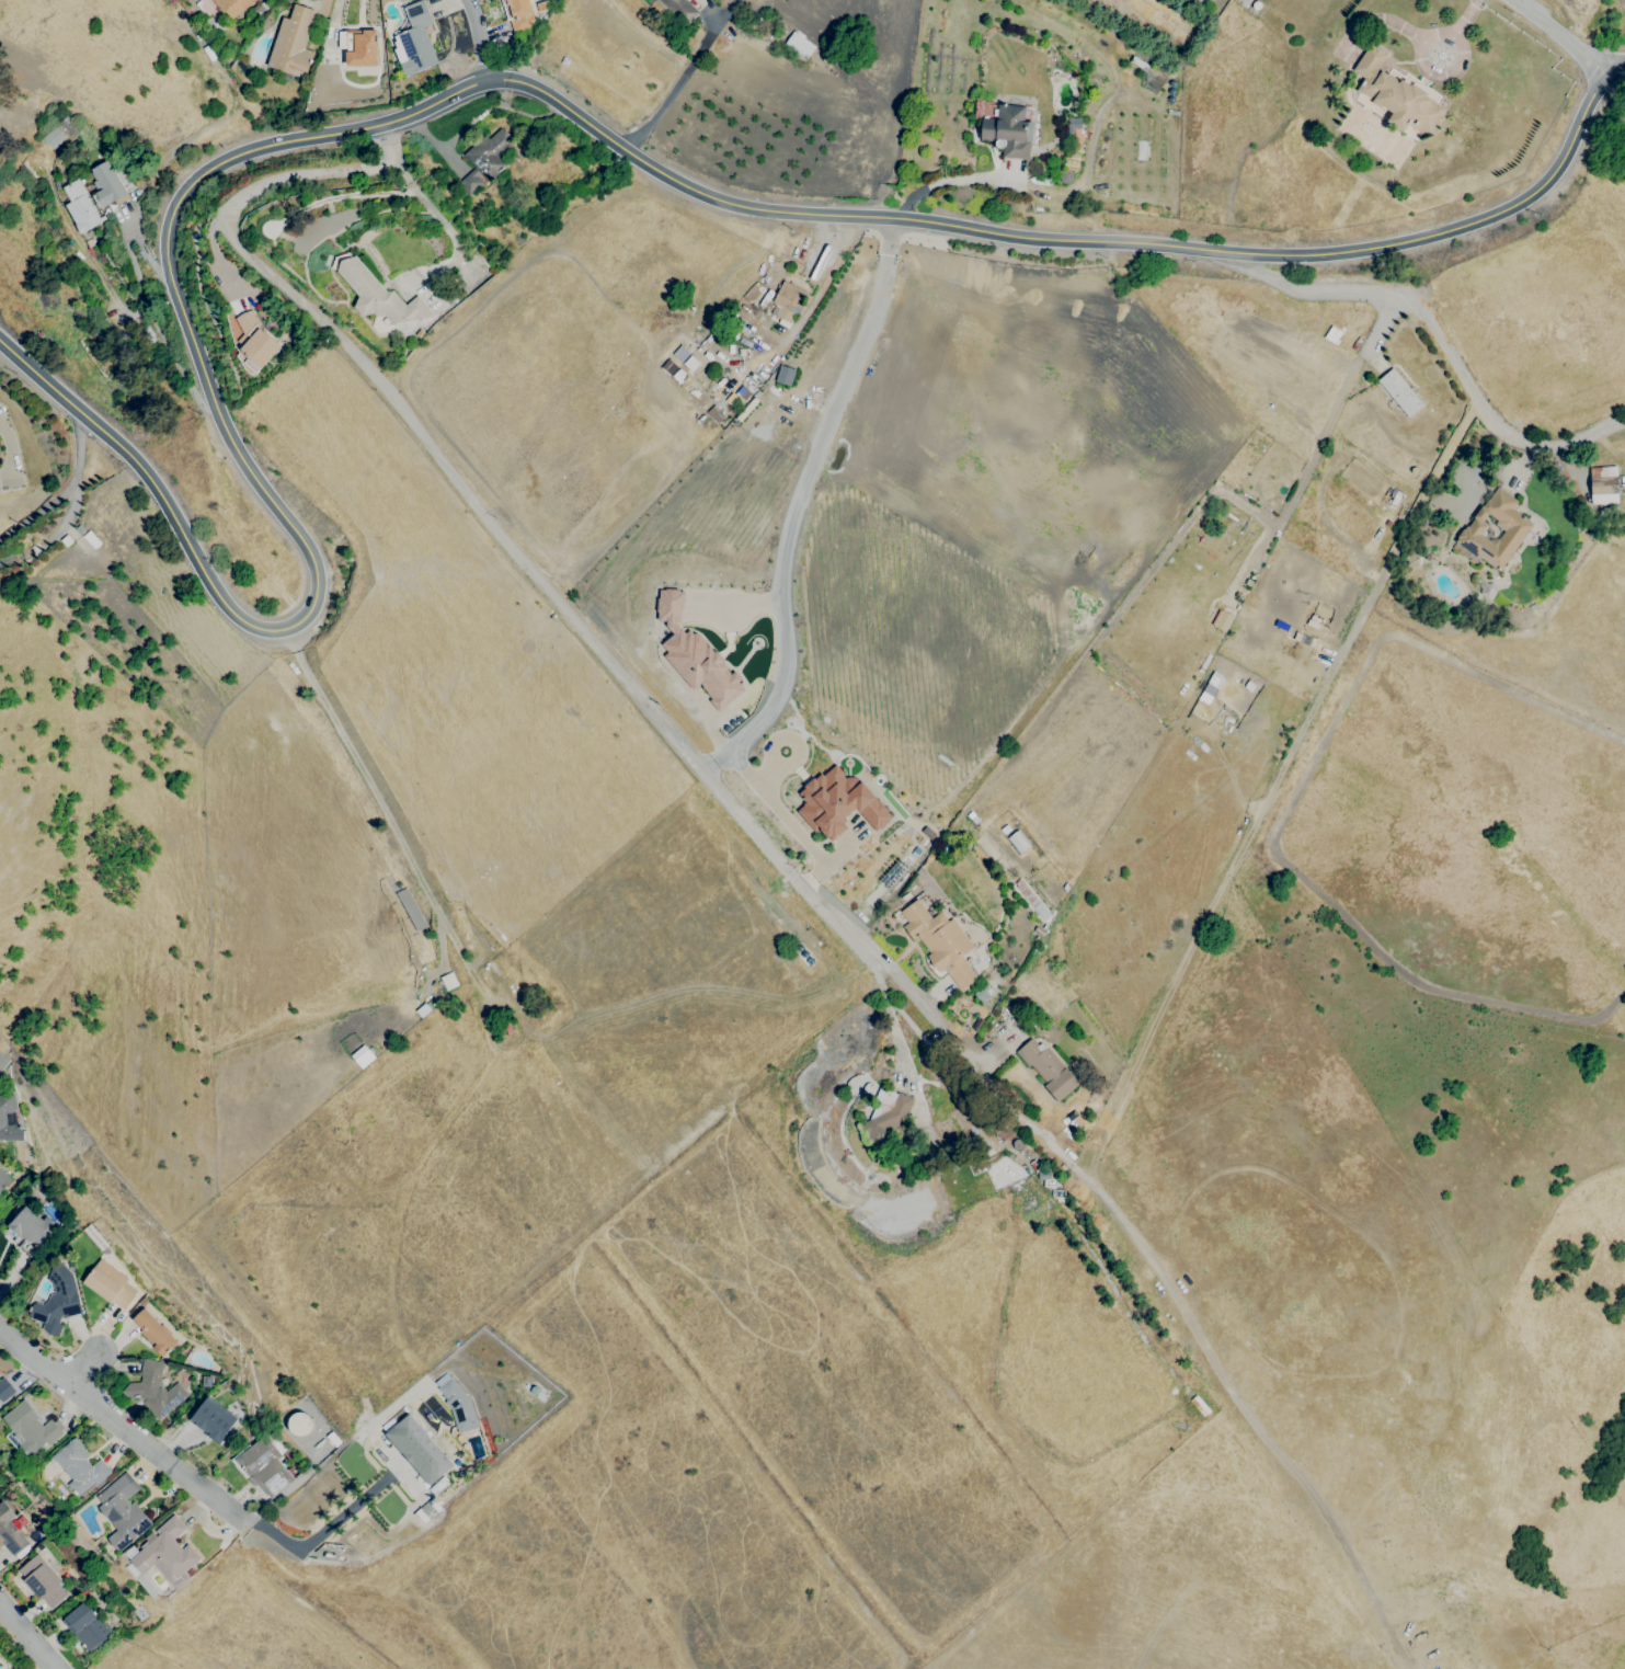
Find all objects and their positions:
building: (653, 1)
building: (233, 7)
building: (680, 10)
building: (520, 14)
road: (1464, 18)
road: (1558, 36)
road: (480, 38)
building: (416, 39)
building: (293, 44)
building: (798, 46)
building: (364, 49)
road: (1447, 72)
road: (685, 79)
building: (1396, 93)
building: (1006, 130)
building: (53, 138)
building: (489, 152)
road: (947, 182)
building: (469, 183)
building: (108, 184)
road: (425, 205)
building: (82, 214)
road: (1075, 241)
road: (145, 252)
road: (218, 259)
road: (106, 289)
building: (376, 294)
building: (786, 302)
road: (1372, 334)
building: (252, 340)
road: (1439, 341)
building: (783, 375)
building: (1398, 392)
road: (8, 454)
road: (244, 461)
building: (1602, 485)
building: (1, 487)
road: (64, 490)
road: (794, 503)
building: (1492, 530)
road: (496, 535)
building: (1221, 620)
building: (695, 655)
road: (375, 796)
building: (837, 803)
road: (785, 819)
building: (939, 942)
building: (1049, 1068)
road: (987, 1086)
building: (882, 1116)
building: (4, 1119)
road: (1077, 1173)
building: (4, 1179)
building: (32, 1227)
building: (108, 1284)
building: (58, 1301)
building: (144, 1302)
building: (153, 1333)
road: (83, 1372)
building: (206, 1381)
building: (5, 1390)
building: (155, 1390)
building: (1200, 1406)
building: (211, 1418)
building: (298, 1424)
road: (119, 1425)
building: (31, 1428)
road: (1258, 1432)
building: (419, 1450)
building: (264, 1465)
building: (80, 1467)
building: (123, 1511)
building: (19, 1521)
road: (323, 1529)
building: (11, 1533)
building: (37, 1539)
building: (168, 1554)
building: (43, 1581)
building: (87, 1626)
road: (26, 1634)

